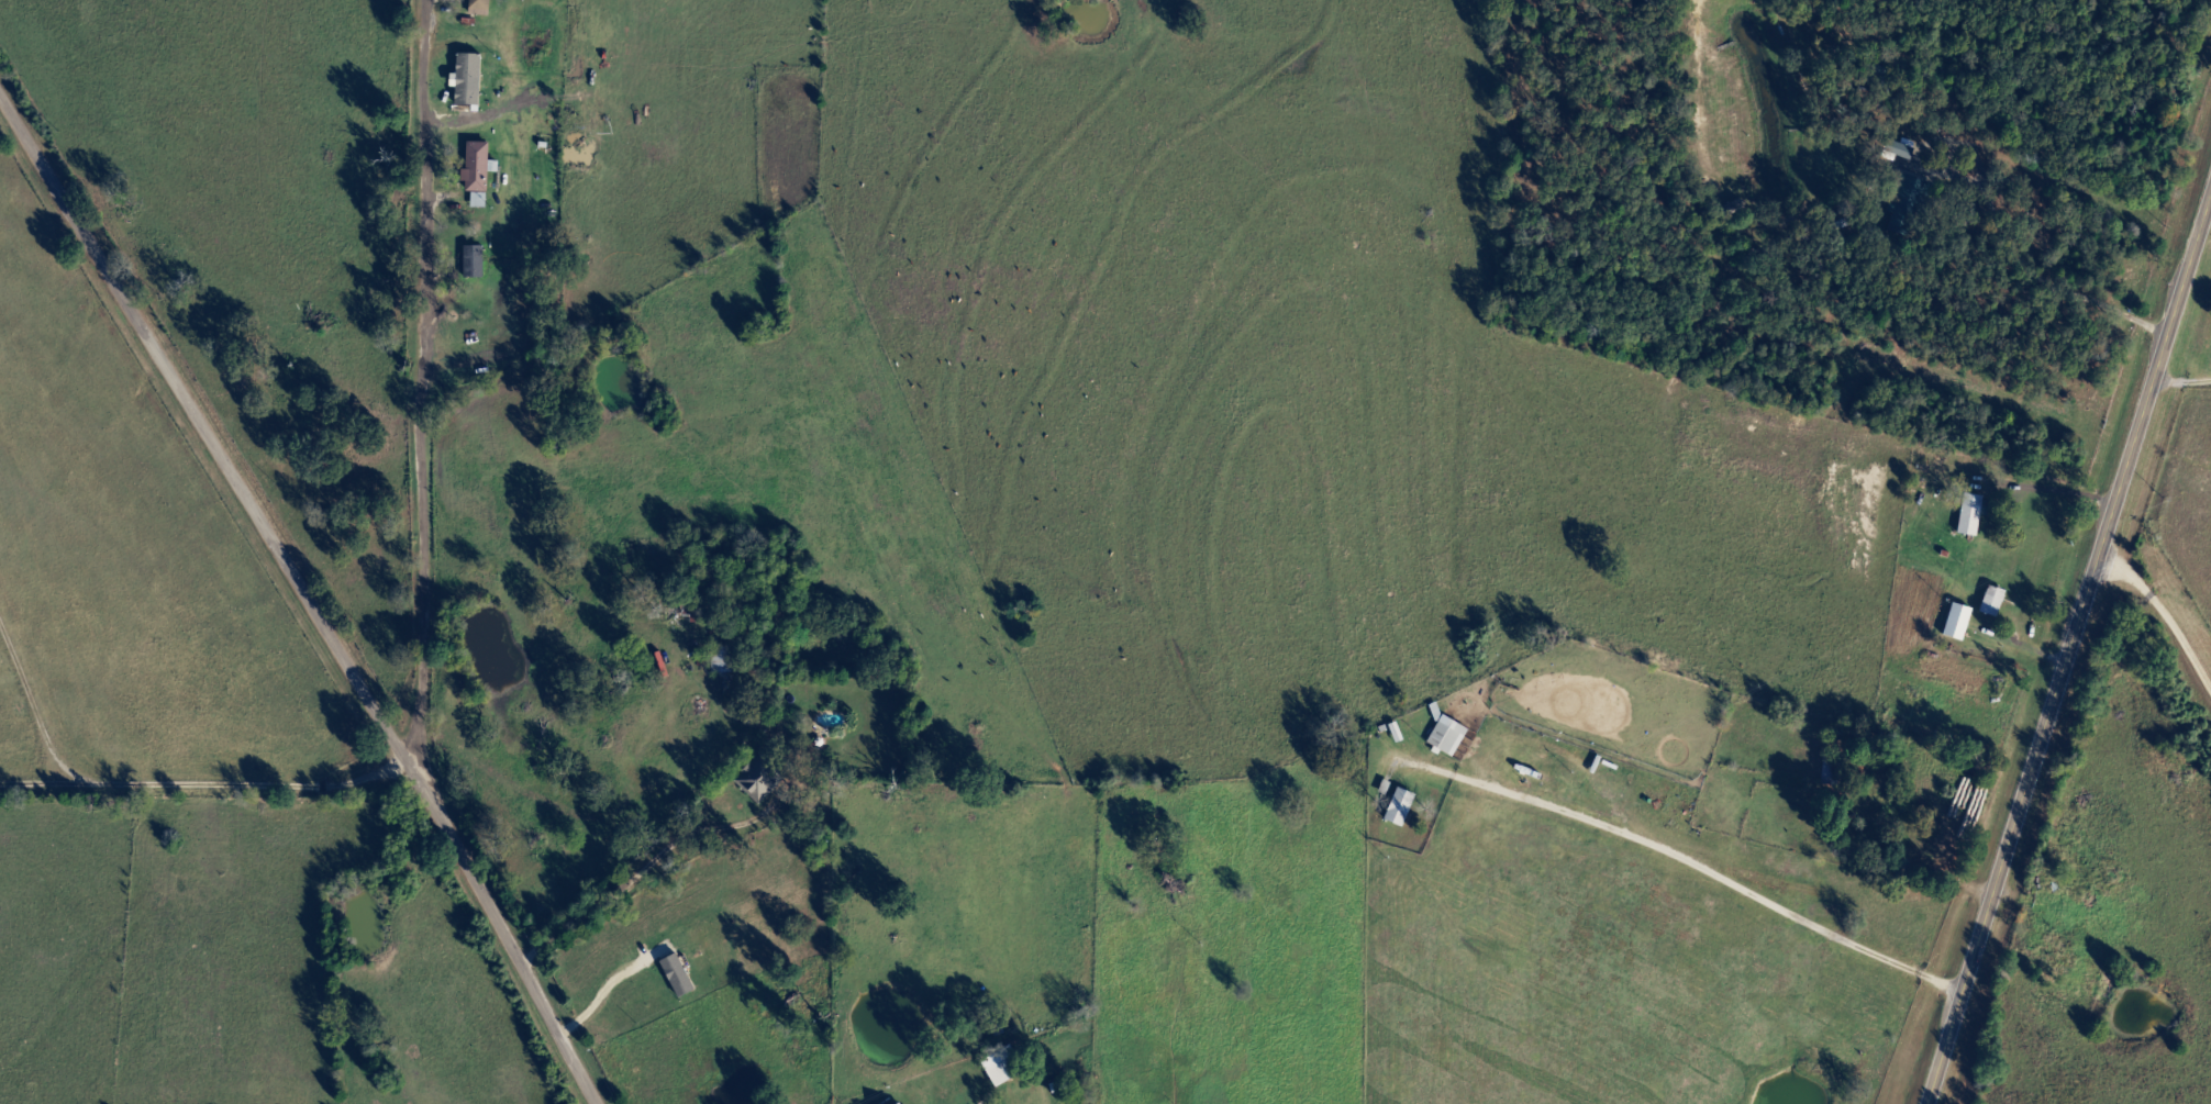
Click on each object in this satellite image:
building: (480, 8)
building: (468, 80)
building: (1900, 152)
building: (478, 168)
building: (479, 201)
building: (1907, 204)
building: (474, 263)
road: (412, 383)
building: (1970, 515)
road: (308, 601)
building: (1993, 602)
building: (1958, 623)
road: (2162, 642)
road: (2070, 649)
building: (722, 660)
building: (1397, 733)
building: (1448, 736)
building: (759, 780)
road: (660, 785)
building: (1400, 807)
building: (678, 977)
building: (1003, 1067)
road: (1068, 1091)

